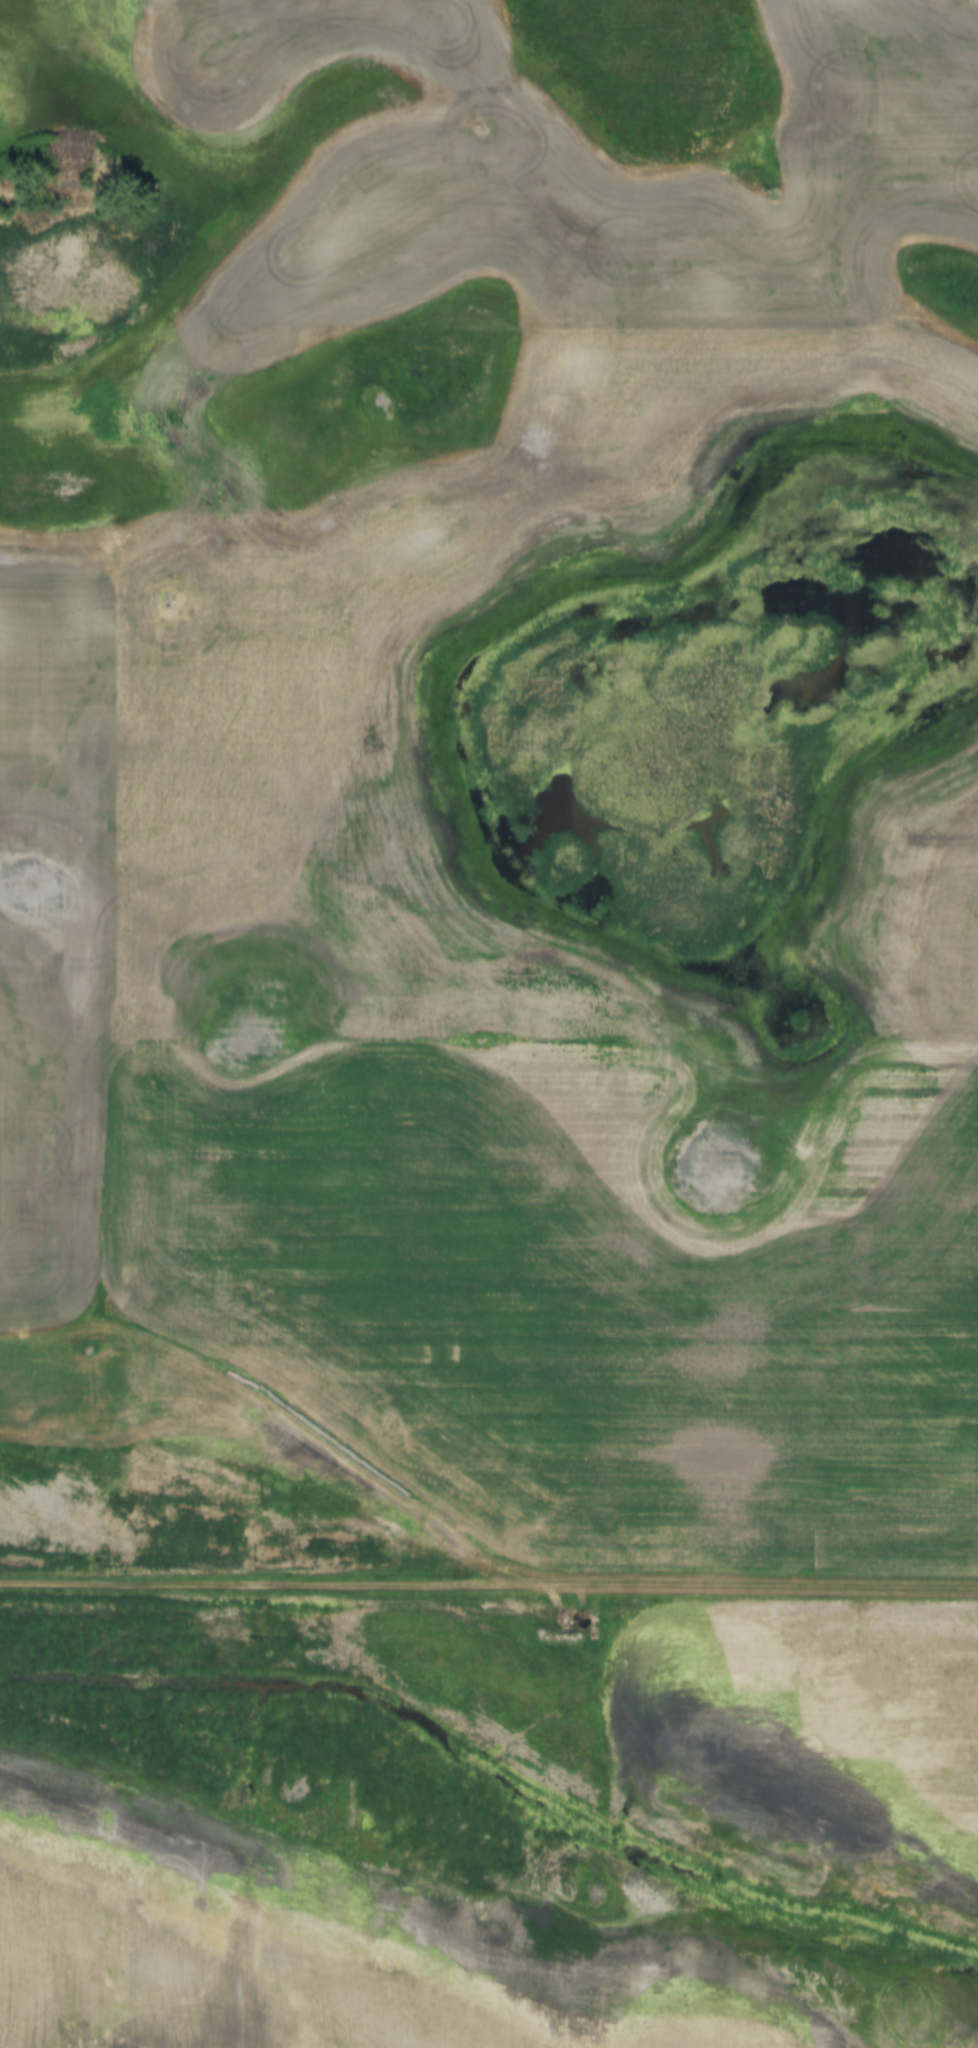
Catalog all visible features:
road: (489, 1578)

